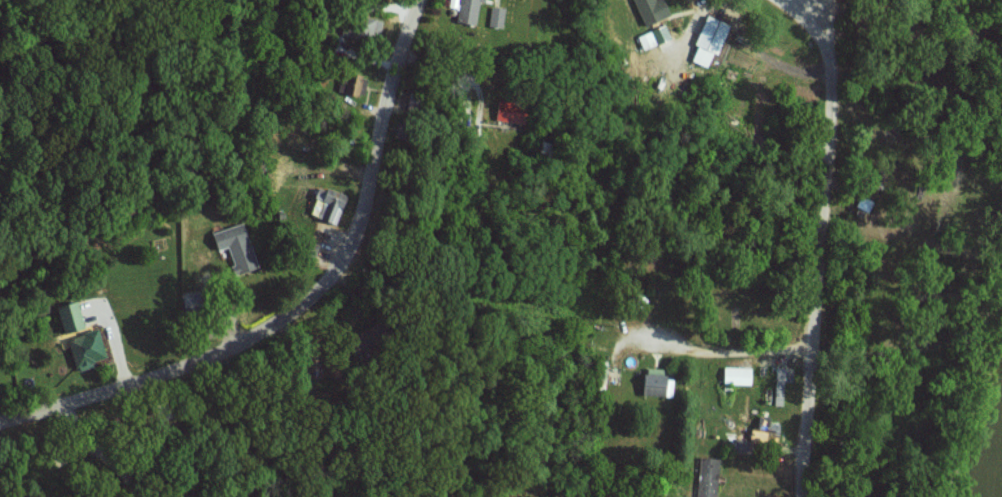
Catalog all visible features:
road: (784, 8)
road: (815, 8)
building: (653, 10)
building: (467, 11)
building: (497, 16)
building: (655, 37)
building: (711, 38)
building: (352, 83)
building: (515, 111)
building: (330, 208)
building: (237, 246)
road: (623, 248)
road: (817, 248)
road: (306, 305)
building: (73, 318)
road: (714, 347)
building: (89, 349)
building: (739, 375)
building: (655, 381)
building: (780, 385)
building: (767, 430)
building: (707, 477)

